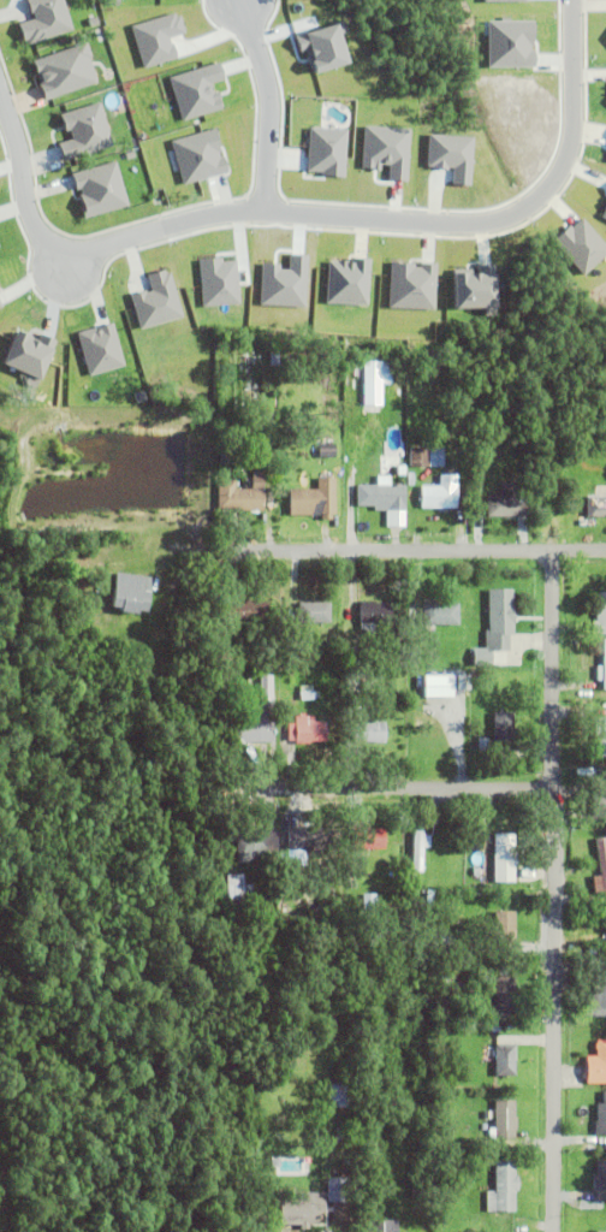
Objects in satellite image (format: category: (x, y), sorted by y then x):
building: (47, 19)
building: (67, 70)
road: (266, 102)
building: (87, 130)
building: (328, 150)
building: (201, 155)
building: (102, 189)
road: (503, 213)
building: (0, 248)
road: (81, 249)
building: (0, 289)
building: (477, 290)
building: (159, 301)
building: (0, 304)
building: (101, 349)
building: (31, 354)
building: (375, 372)
building: (251, 383)
building: (272, 419)
building: (360, 442)
building: (326, 451)
building: (225, 454)
building: (426, 457)
building: (528, 468)
building: (410, 479)
building: (439, 494)
building: (242, 496)
building: (382, 498)
building: (313, 500)
building: (506, 503)
building: (595, 507)
road: (412, 550)
building: (129, 600)
building: (346, 612)
building: (244, 614)
building: (313, 614)
building: (372, 615)
building: (599, 615)
building: (439, 616)
building: (499, 618)
building: (351, 658)
building: (481, 658)
building: (602, 669)
building: (441, 686)
building: (305, 693)
building: (266, 710)
building: (503, 729)
building: (305, 731)
building: (368, 734)
building: (600, 739)
building: (481, 746)
road: (386, 787)
building: (598, 800)
building: (308, 840)
building: (367, 840)
building: (255, 847)
building: (417, 851)
building: (503, 859)
building: (600, 869)
building: (233, 885)
road: (555, 890)
building: (260, 894)
building: (238, 899)
building: (358, 904)
building: (503, 929)
building: (445, 972)
building: (605, 972)
building: (504, 997)
building: (595, 1005)
building: (503, 1061)
building: (595, 1066)
building: (338, 1094)
building: (451, 1098)
building: (600, 1118)
building: (503, 1123)
building: (500, 1144)
building: (420, 1181)
building: (600, 1183)
building: (503, 1190)
building: (337, 1191)
building: (302, 1212)
building: (381, 1227)
building: (602, 1231)

